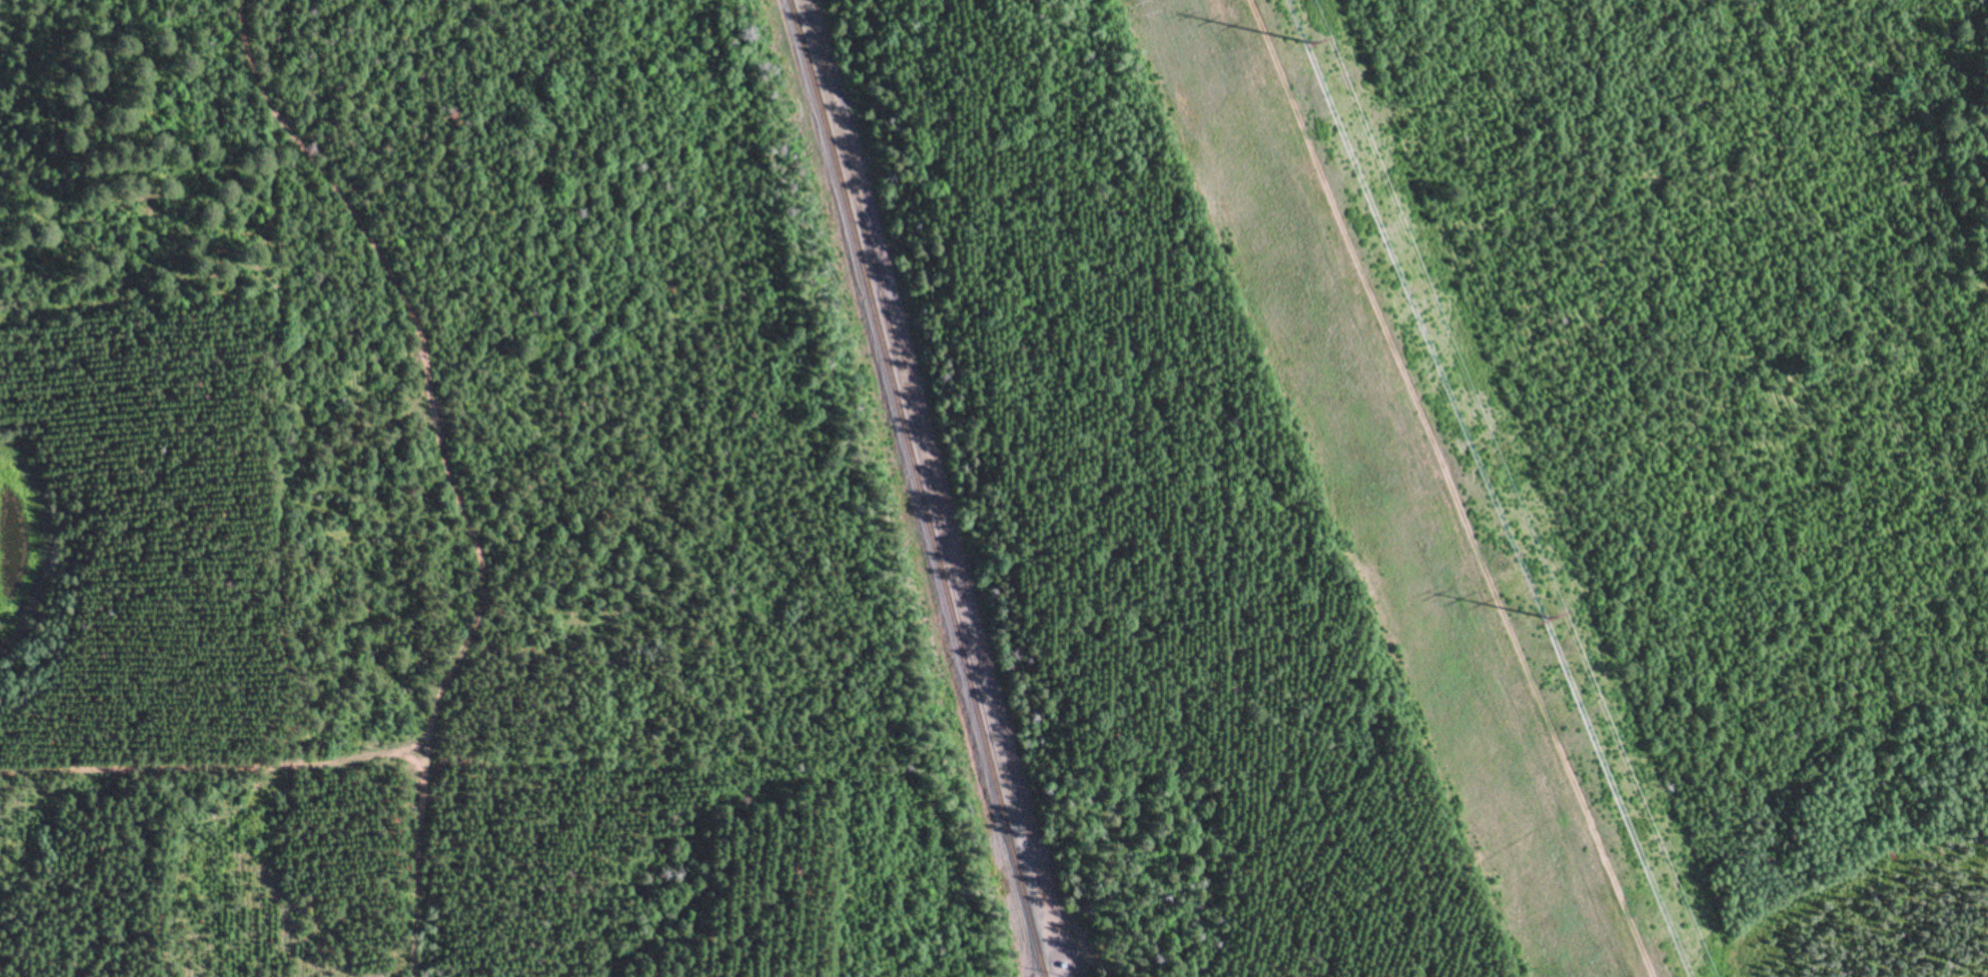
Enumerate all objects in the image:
power tower: (1311, 44)
railway: (927, 459)
railway: (922, 487)
road: (946, 488)
road: (482, 566)
power tower: (1549, 618)
road: (414, 861)

